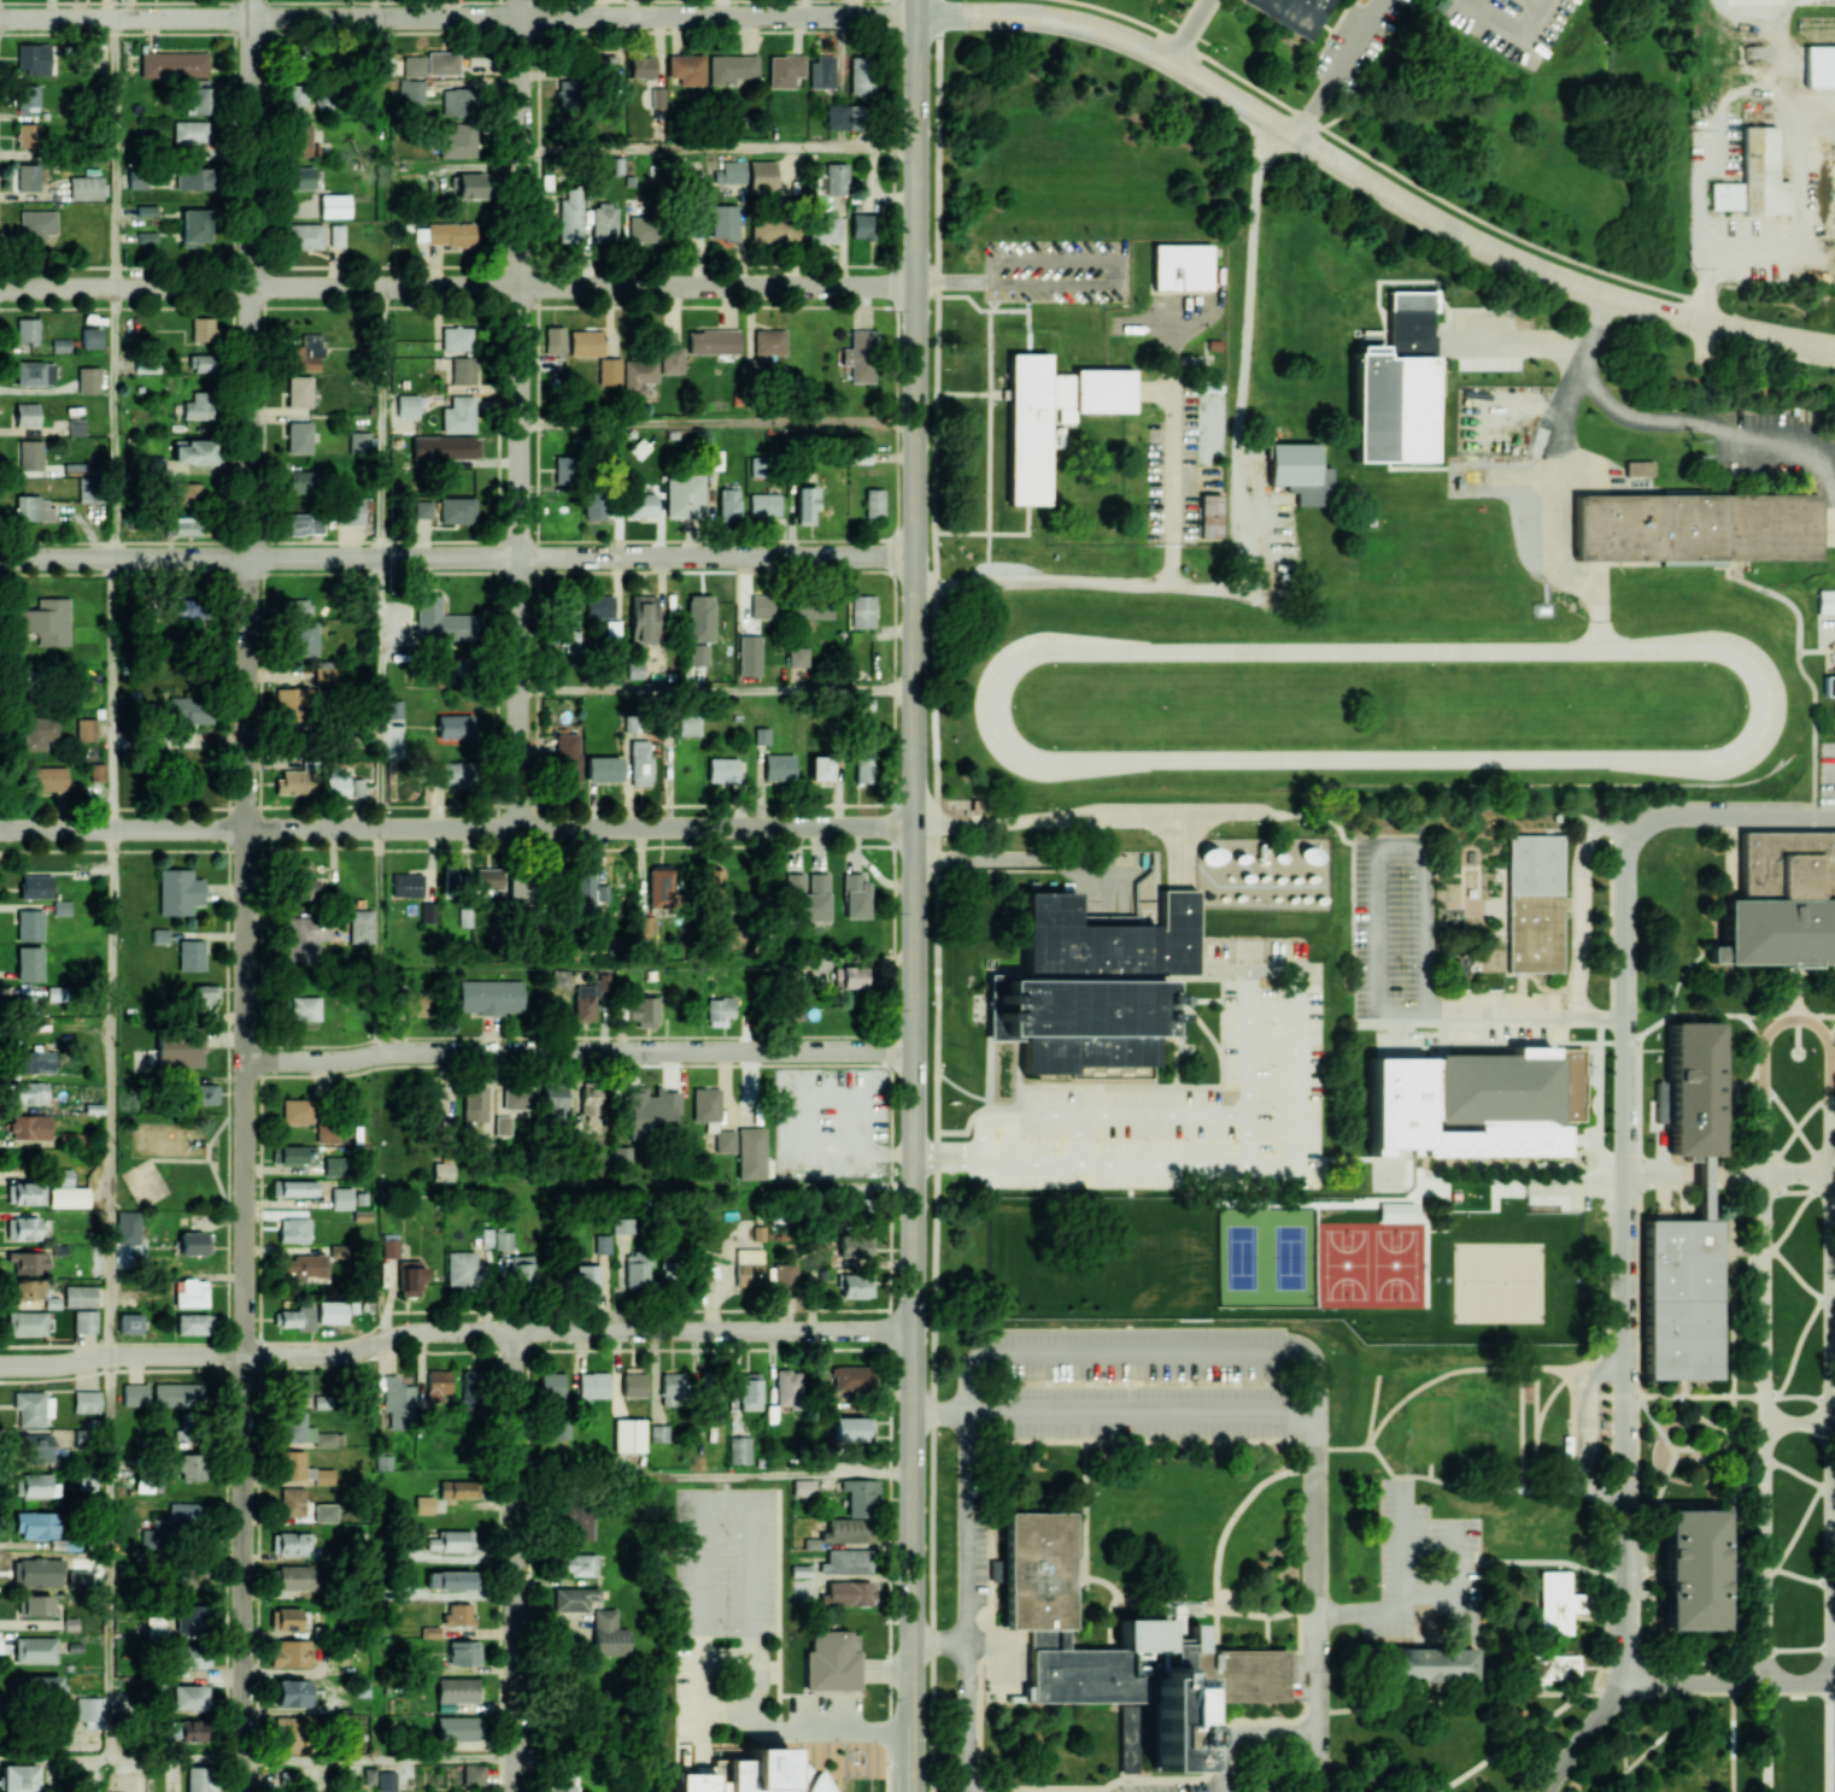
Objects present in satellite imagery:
road: (915, 7)
road: (115, 8)
road: (251, 8)
building: (1288, 13)
road: (584, 16)
road: (125, 17)
road: (1514, 27)
road: (1188, 29)
building: (33, 58)
building: (174, 64)
building: (442, 64)
building: (1819, 65)
building: (414, 66)
building: (599, 66)
building: (641, 66)
building: (731, 67)
building: (686, 69)
road: (1343, 69)
building: (784, 70)
building: (822, 71)
building: (861, 75)
building: (411, 90)
building: (295, 94)
building: (567, 95)
building: (198, 96)
building: (27, 98)
building: (657, 98)
building: (457, 101)
building: (843, 117)
building: (189, 130)
building: (27, 134)
building: (300, 139)
building: (458, 141)
road: (720, 151)
road: (115, 153)
building: (729, 171)
building: (27, 176)
building: (762, 176)
building: (192, 177)
building: (300, 177)
building: (1754, 177)
building: (136, 178)
building: (836, 178)
road: (1370, 181)
building: (470, 186)
building: (84, 187)
building: (334, 205)
building: (146, 210)
building: (569, 219)
building: (725, 222)
building: (604, 223)
building: (36, 225)
building: (861, 225)
building: (194, 227)
building: (643, 229)
building: (823, 229)
building: (775, 231)
building: (450, 234)
building: (304, 235)
building: (336, 235)
building: (146, 236)
road: (1804, 252)
road: (1090, 260)
building: (1180, 266)
road: (457, 286)
building: (201, 328)
building: (27, 329)
building: (90, 337)
building: (456, 339)
building: (553, 341)
building: (713, 341)
building: (768, 341)
building: (585, 342)
road: (1518, 342)
building: (60, 345)
building: (304, 353)
building: (858, 356)
building: (670, 359)
building: (203, 363)
building: (754, 366)
building: (463, 370)
building: (609, 371)
building: (34, 372)
building: (638, 375)
building: (88, 380)
building: (1395, 386)
building: (298, 390)
building: (406, 405)
building: (198, 406)
building: (1051, 413)
building: (27, 415)
building: (458, 415)
road: (523, 415)
road: (251, 422)
road: (379, 422)
road: (112, 423)
road: (719, 424)
building: (76, 427)
road: (1722, 427)
building: (298, 437)
building: (358, 442)
building: (445, 447)
building: (194, 451)
building: (30, 454)
building: (858, 457)
building: (152, 464)
building: (1637, 468)
building: (561, 469)
building: (1300, 472)
road: (1237, 476)
road: (1549, 481)
building: (299, 482)
building: (88, 489)
building: (187, 493)
building: (684, 495)
building: (873, 503)
building: (640, 504)
building: (764, 504)
building: (727, 505)
building: (805, 505)
building: (31, 507)
building: (422, 509)
building: (457, 510)
building: (350, 512)
building: (1208, 515)
building: (301, 523)
building: (187, 525)
building: (1695, 527)
road: (457, 556)
building: (1825, 601)
building: (186, 606)
building: (299, 606)
building: (599, 606)
building: (763, 606)
building: (862, 610)
building: (809, 611)
building: (699, 617)
building: (643, 618)
building: (46, 621)
building: (440, 622)
building: (567, 623)
building: (612, 629)
building: (303, 638)
building: (697, 654)
building: (749, 656)
building: (797, 656)
building: (634, 669)
building: (326, 672)
building: (1829, 686)
road: (717, 689)
park: (1389, 689)
road: (112, 693)
road: (379, 693)
building: (289, 703)
building: (190, 709)
building: (393, 709)
building: (688, 723)
building: (453, 725)
building: (86, 728)
building: (39, 733)
building: (565, 757)
road: (1716, 762)
building: (639, 763)
building: (862, 765)
building: (778, 766)
building: (820, 768)
building: (602, 769)
building: (721, 769)
building: (95, 772)
building: (455, 774)
building: (45, 777)
building: (295, 781)
building: (336, 787)
road: (1071, 815)
road: (1730, 816)
road: (123, 828)
road: (580, 828)
road: (1015, 858)
building: (450, 877)
building: (487, 877)
building: (710, 881)
building: (582, 883)
building: (406, 885)
building: (517, 885)
building: (35, 886)
building: (303, 888)
building: (178, 891)
building: (600, 892)
road: (770, 893)
building: (855, 894)
road: (379, 895)
building: (805, 897)
building: (656, 900)
building: (1780, 900)
building: (1532, 901)
road: (914, 903)
building: (60, 907)
building: (428, 912)
building: (29, 924)
building: (359, 926)
building: (304, 938)
road: (1378, 941)
building: (190, 954)
road: (646, 959)
building: (28, 962)
building: (848, 976)
building: (561, 977)
road: (1298, 980)
building: (1091, 987)
building: (54, 993)
building: (204, 995)
building: (489, 995)
building: (584, 1001)
building: (417, 1003)
building: (27, 1004)
building: (304, 1007)
road: (380, 1007)
building: (643, 1010)
building: (719, 1010)
road: (1798, 1010)
road: (1724, 1013)
road: (1795, 1017)
road: (1830, 1030)
building: (178, 1050)
road: (1761, 1050)
road: (578, 1052)
building: (33, 1060)
road: (1740, 1083)
building: (1693, 1087)
building: (29, 1092)
road: (111, 1092)
building: (204, 1093)
building: (516, 1097)
building: (440, 1098)
parking lot: (1191, 1100)
building: (474, 1101)
building: (705, 1103)
building: (1472, 1103)
building: (553, 1104)
building: (591, 1104)
building: (295, 1111)
building: (650, 1111)
building: (502, 1124)
road: (1799, 1124)
road: (1623, 1126)
building: (29, 1127)
road: (1795, 1127)
building: (324, 1132)
road: (1830, 1133)
road: (1078, 1139)
road: (1245, 1139)
building: (723, 1140)
road: (1833, 1142)
building: (750, 1152)
building: (297, 1154)
road: (984, 1157)
park: (175, 1159)
building: (334, 1165)
building: (444, 1170)
road: (1726, 1170)
road: (1815, 1170)
road: (1833, 1170)
road: (1778, 1171)
park: (143, 1181)
building: (293, 1187)
building: (65, 1189)
road: (1513, 1191)
building: (25, 1192)
building: (341, 1199)
building: (860, 1199)
road: (1799, 1208)
building: (25, 1227)
building: (127, 1227)
building: (293, 1229)
building: (503, 1239)
building: (193, 1242)
building: (602, 1244)
building: (855, 1246)
building: (389, 1248)
building: (336, 1253)
road: (1777, 1253)
park: (1262, 1257)
road: (1128, 1259)
road: (1195, 1259)
building: (27, 1262)
park: (1371, 1263)
building: (304, 1267)
building: (749, 1267)
building: (461, 1268)
building: (637, 1269)
building: (667, 1270)
building: (785, 1273)
building: (410, 1277)
building: (586, 1279)
building: (856, 1286)
building: (28, 1288)
building: (190, 1292)
building: (80, 1295)
building: (1679, 1298)
road: (1442, 1300)
road: (245, 1309)
building: (297, 1317)
building: (84, 1321)
building: (25, 1322)
building: (129, 1322)
building: (193, 1323)
road: (578, 1332)
road: (1800, 1341)
road: (1136, 1353)
road: (122, 1355)
building: (850, 1377)
parking lot: (1145, 1383)
building: (295, 1385)
building: (438, 1385)
building: (551, 1385)
building: (592, 1385)
building: (633, 1385)
building: (785, 1387)
road: (1764, 1387)
building: (672, 1388)
building: (471, 1389)
building: (749, 1391)
building: (177, 1393)
building: (134, 1394)
road: (1759, 1396)
building: (86, 1400)
building: (398, 1403)
building: (31, 1408)
road: (1137, 1412)
road: (1798, 1421)
building: (183, 1423)
road: (1716, 1424)
road: (1831, 1424)
building: (851, 1428)
building: (559, 1429)
building: (303, 1430)
building: (658, 1432)
building: (628, 1434)
building: (36, 1447)
building: (739, 1450)
road: (1731, 1451)
building: (292, 1464)
building: (192, 1467)
road: (715, 1473)
building: (37, 1486)
building: (803, 1487)
building: (458, 1488)
building: (860, 1497)
building: (292, 1502)
building: (423, 1504)
building: (184, 1512)
building: (35, 1523)
building: (578, 1523)
road: (1799, 1528)
building: (845, 1530)
road: (968, 1534)
building: (153, 1538)
building: (450, 1540)
building: (289, 1543)
road: (1625, 1553)
road: (110, 1557)
building: (845, 1561)
road: (517, 1562)
building: (578, 1563)
building: (37, 1565)
building: (1689, 1569)
road: (1777, 1569)
road: (1309, 1573)
building: (184, 1576)
building: (293, 1576)
building: (451, 1579)
road: (700, 1586)
building: (846, 1593)
building: (575, 1598)
building: (1556, 1602)
building: (37, 1604)
building: (458, 1614)
building: (190, 1617)
building: (285, 1617)
parking lot: (729, 1629)
building: (609, 1633)
road: (940, 1645)
building: (1119, 1647)
building: (34, 1650)
building: (464, 1651)
building: (289, 1652)
building: (189, 1656)
road: (726, 1656)
building: (831, 1661)
building: (1429, 1665)
road: (1611, 1665)
building: (1550, 1668)
road: (1730, 1681)
building: (41, 1685)
building: (457, 1690)
building: (291, 1693)
building: (189, 1697)
building: (88, 1710)
building: (187, 1729)
building: (456, 1731)
building: (288, 1734)
road: (1244, 1734)
road: (1582, 1734)
road: (1765, 1737)
road: (1831, 1737)
park: (1712, 1744)
road: (54, 1759)
road: (177, 1759)
road: (382, 1759)
building: (473, 1773)
building: (744, 1774)
building: (369, 1775)
building: (18, 1778)
building: (199, 1779)
building: (386, 1780)
building: (559, 1785)

